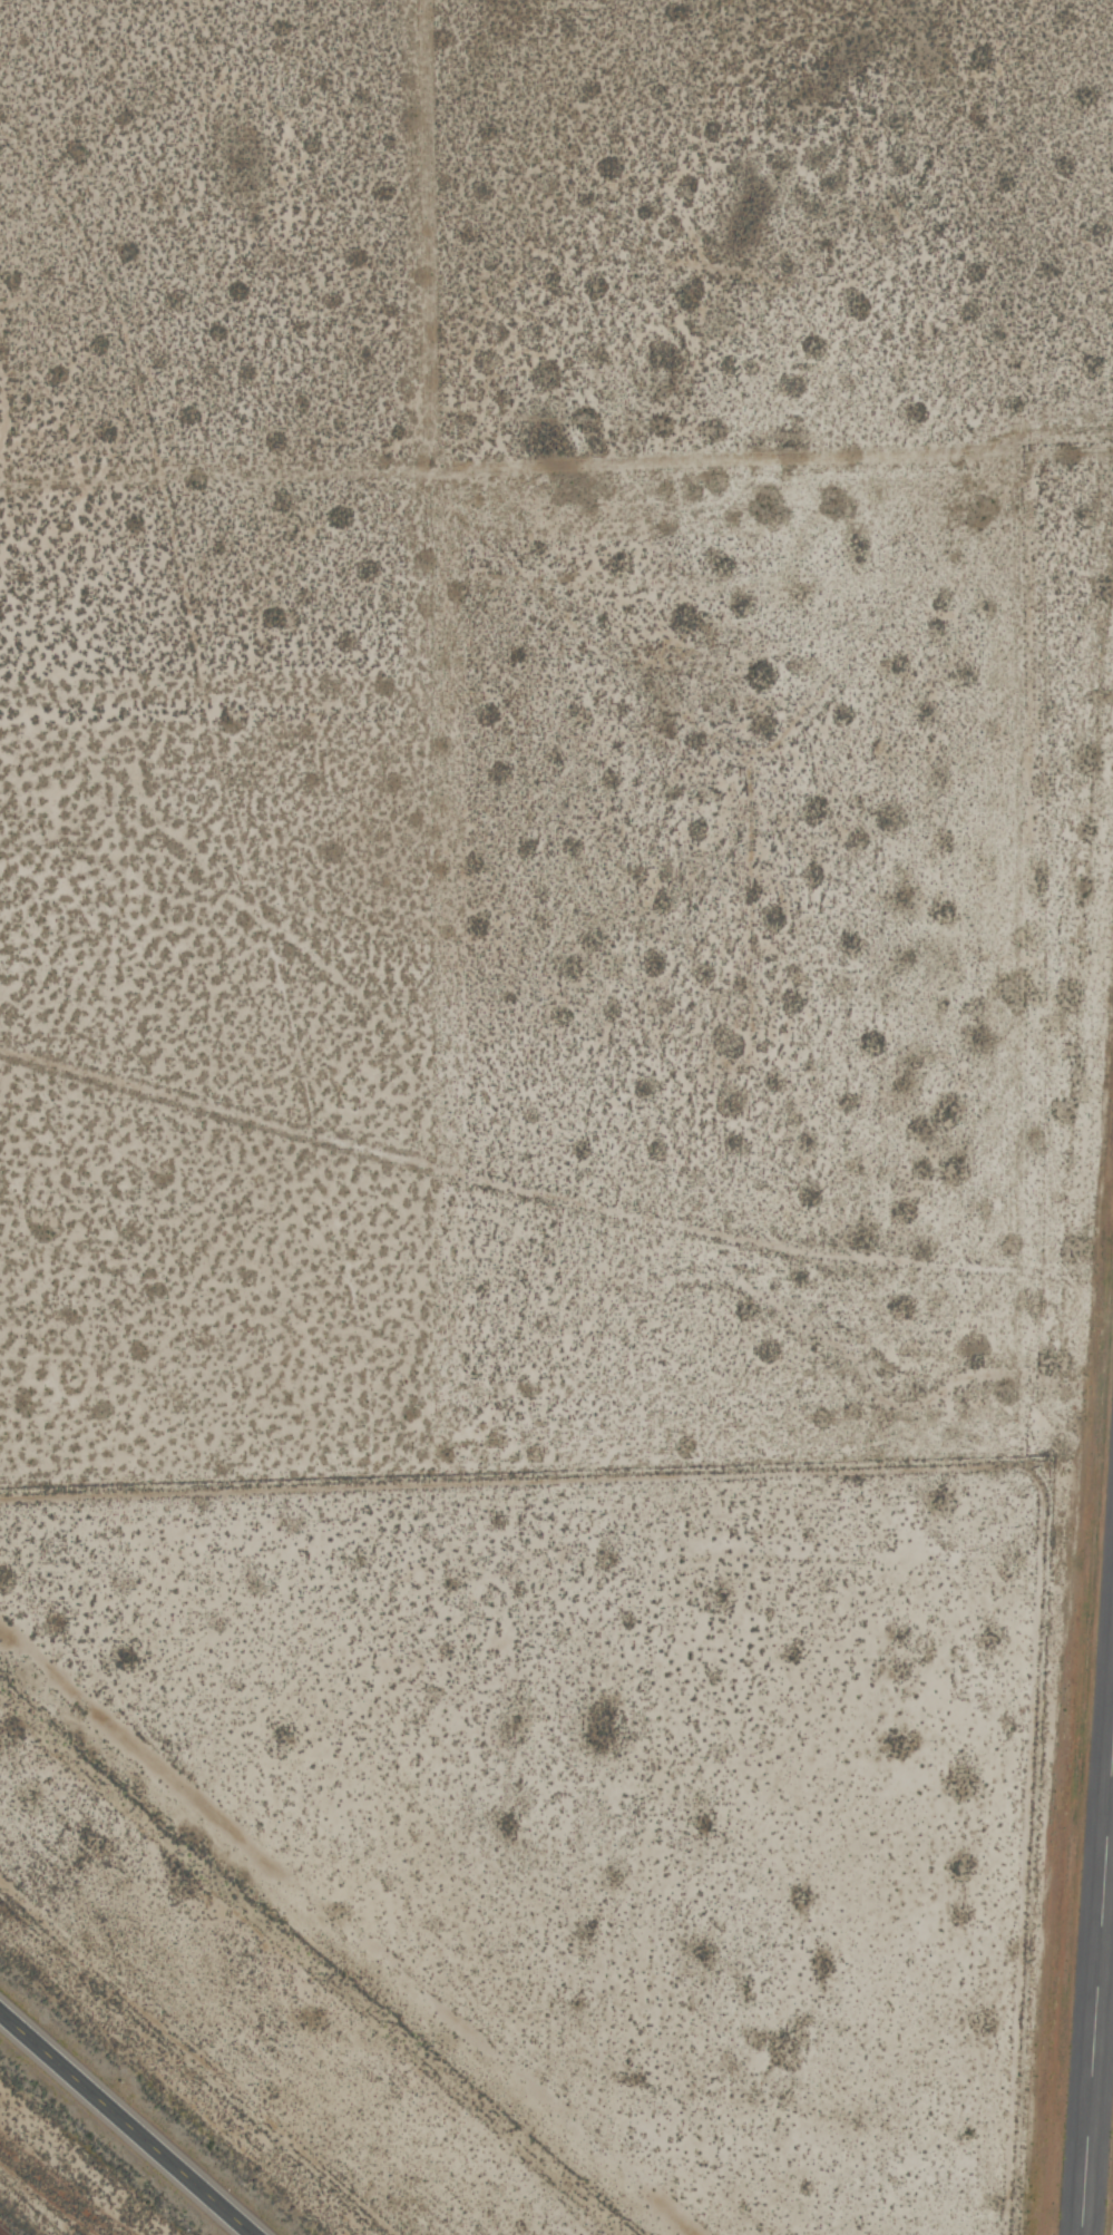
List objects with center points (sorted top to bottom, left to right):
airport runway: (1100, 2041)
road: (124, 2126)

